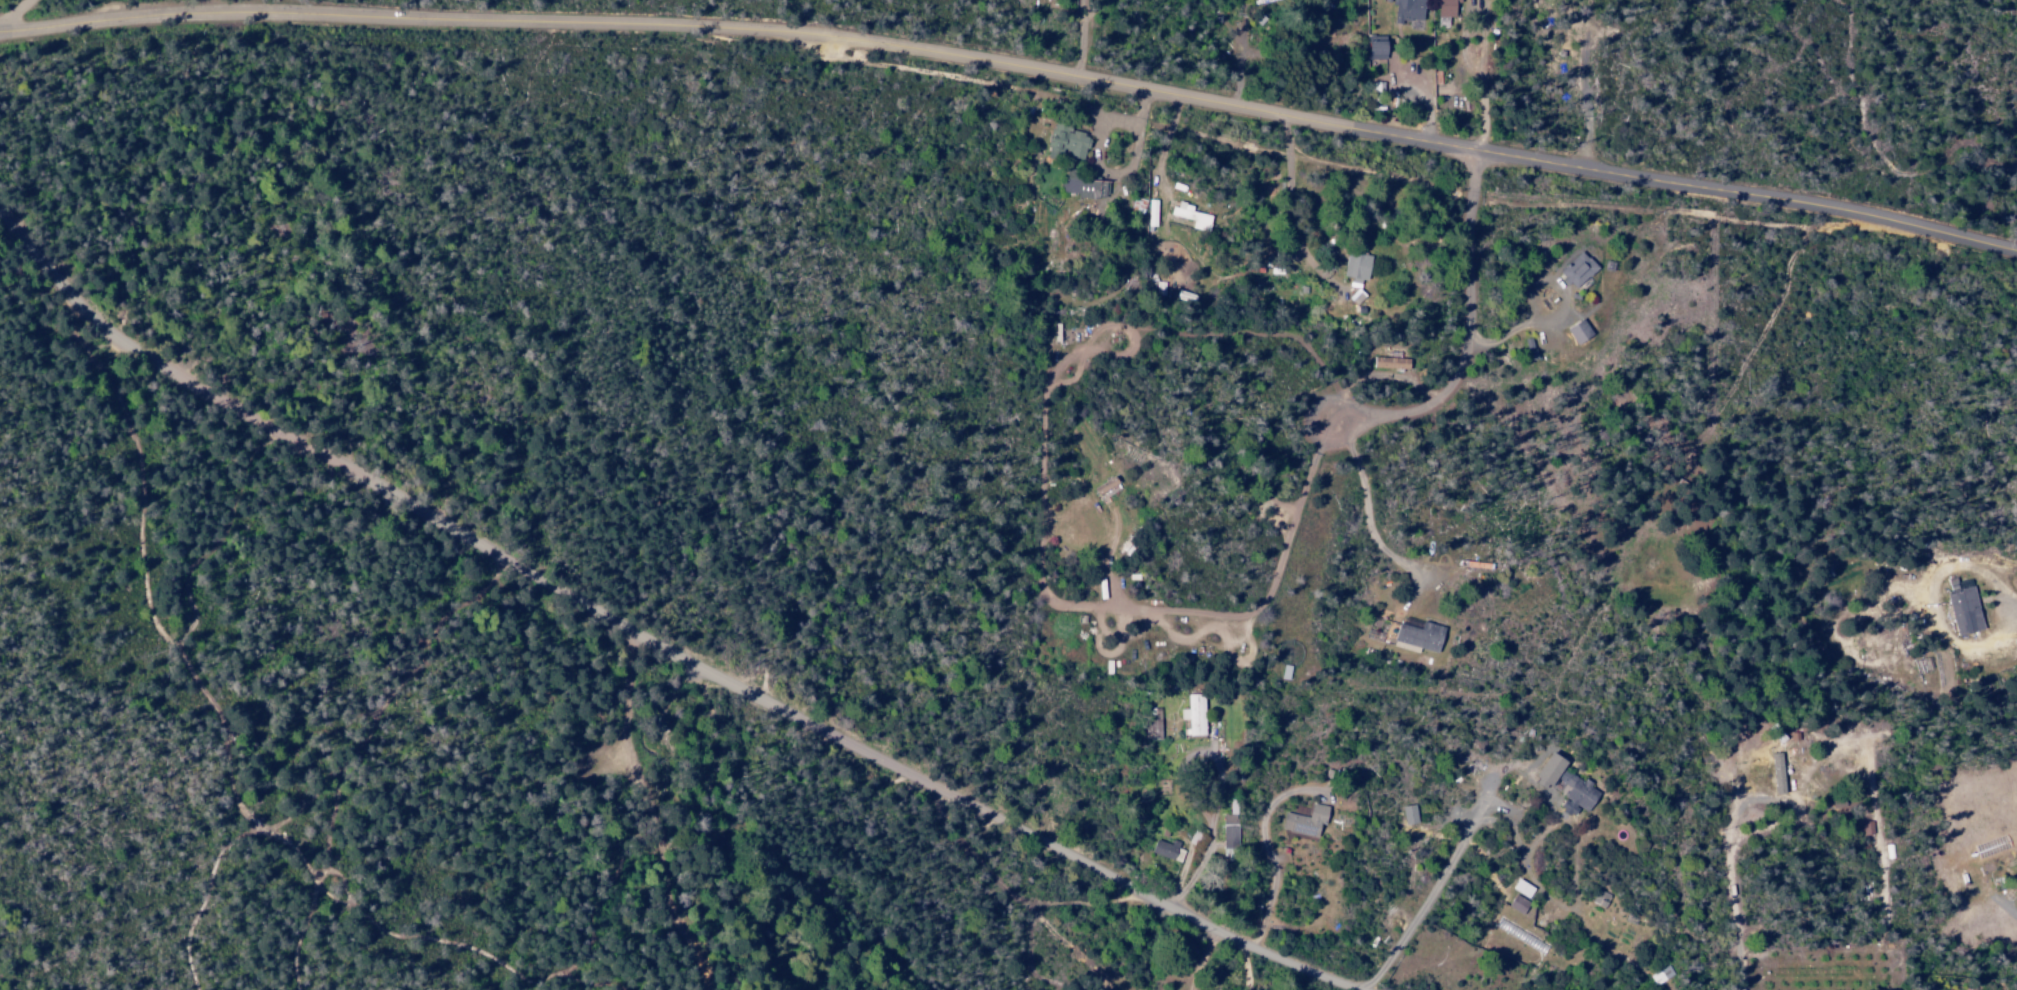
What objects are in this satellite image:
building: (1443, 8)
building: (1405, 10)
road: (18, 16)
building: (1372, 47)
road: (1015, 69)
building: (1066, 142)
building: (1083, 187)
building: (1188, 216)
building: (1354, 267)
building: (1576, 270)
building: (1576, 331)
building: (1388, 362)
road: (173, 376)
road: (1036, 439)
building: (1961, 608)
building: (1417, 636)
road: (625, 699)
building: (1150, 723)
road: (831, 739)
building: (1544, 768)
building: (1774, 772)
building: (1573, 792)
building: (1406, 814)
building: (1302, 820)
building: (1865, 827)
building: (1227, 830)
building: (1164, 850)
building: (1520, 888)
road: (1002, 891)
building: (1515, 904)
road: (1192, 925)
building: (1660, 975)

